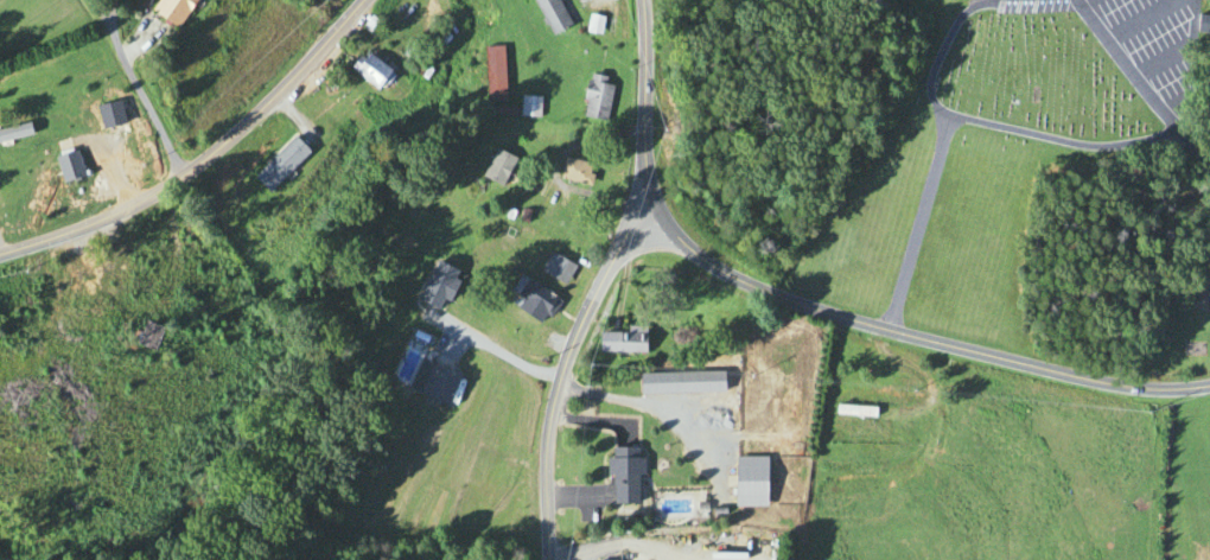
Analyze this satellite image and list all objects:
building: (168, 11)
building: (548, 14)
building: (591, 25)
building: (368, 70)
building: (491, 72)
road: (1141, 87)
road: (133, 90)
building: (592, 96)
building: (526, 106)
road: (644, 106)
building: (106, 116)
road: (1055, 125)
building: (13, 134)
road: (200, 157)
road: (930, 158)
building: (276, 164)
building: (493, 167)
building: (65, 168)
road: (555, 171)
building: (571, 171)
building: (400, 265)
building: (549, 267)
building: (64, 319)
building: (488, 320)
road: (918, 339)
building: (617, 341)
road: (501, 352)
road: (562, 371)
building: (428, 382)
building: (676, 382)
building: (852, 412)
building: (618, 475)
building: (746, 481)
road: (575, 559)

